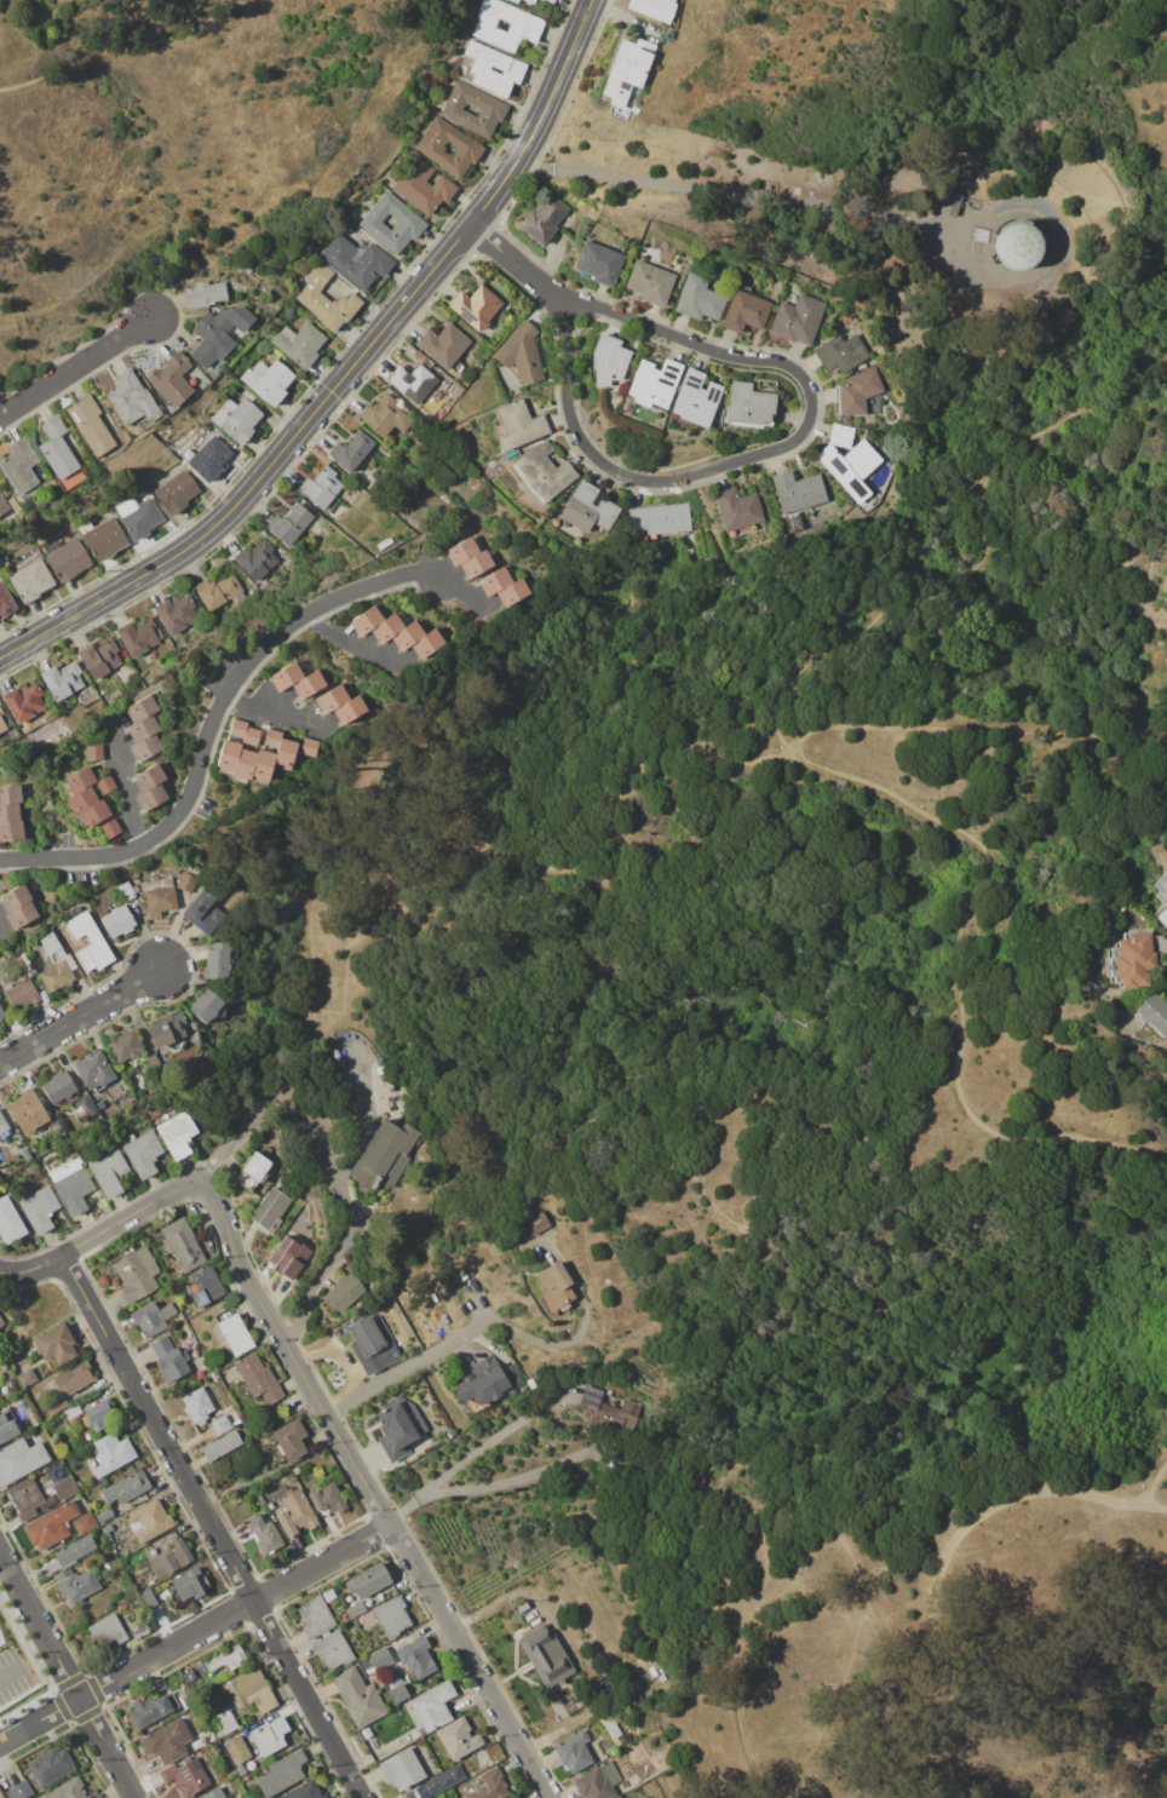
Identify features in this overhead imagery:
building: (551, 0)
building: (525, 2)
building: (654, 7)
road: (1157, 15)
building: (523, 29)
road: (127, 50)
building: (510, 67)
building: (626, 76)
building: (491, 109)
park: (160, 127)
building: (427, 147)
building: (422, 185)
road: (724, 196)
building: (952, 203)
building: (544, 218)
building: (410, 222)
building: (1018, 245)
building: (357, 260)
building: (599, 262)
road: (518, 264)
building: (247, 269)
building: (298, 278)
building: (650, 282)
building: (205, 293)
building: (324, 297)
building: (699, 298)
building: (475, 305)
building: (746, 310)
building: (798, 318)
building: (218, 333)
building: (299, 343)
building: (444, 346)
building: (521, 352)
building: (840, 352)
building: (609, 360)
road: (1161, 362)
road: (76, 367)
building: (431, 367)
road: (344, 375)
building: (172, 377)
building: (268, 379)
building: (412, 381)
building: (654, 381)
building: (858, 390)
building: (247, 394)
building: (132, 398)
building: (694, 400)
building: (747, 404)
building: (439, 412)
building: (385, 417)
building: (236, 418)
building: (90, 424)
building: (517, 424)
building: (841, 435)
building: (57, 447)
building: (351, 449)
building: (208, 458)
building: (850, 466)
road: (613, 469)
building: (21, 470)
building: (39, 470)
building: (542, 470)
building: (476, 482)
building: (321, 486)
building: (176, 492)
building: (797, 495)
building: (2, 506)
building: (15, 506)
building: (588, 509)
building: (737, 510)
building: (138, 516)
building: (659, 519)
building: (289, 523)
building: (103, 536)
building: (461, 551)
building: (65, 557)
building: (257, 558)
building: (476, 563)
building: (495, 580)
building: (30, 581)
building: (217, 591)
building: (512, 591)
building: (5, 601)
building: (176, 613)
building: (367, 619)
building: (386, 627)
building: (139, 636)
building: (407, 636)
building: (426, 643)
road: (356, 645)
building: (99, 657)
road: (646, 666)
building: (286, 676)
building: (63, 680)
building: (307, 684)
road: (470, 684)
building: (105, 697)
building: (332, 697)
building: (23, 701)
road: (222, 703)
building: (142, 708)
building: (349, 708)
road: (276, 713)
building: (2, 722)
road: (973, 726)
building: (41, 728)
building: (237, 728)
building: (143, 729)
building: (251, 735)
building: (271, 737)
building: (309, 746)
building: (145, 748)
building: (94, 753)
building: (284, 754)
building: (228, 756)
building: (243, 765)
building: (263, 765)
road: (837, 772)
building: (150, 777)
building: (77, 781)
building: (105, 786)
road: (127, 787)
building: (10, 794)
building: (151, 797)
building: (80, 800)
road: (465, 802)
building: (10, 812)
building: (93, 814)
building: (110, 828)
building: (11, 831)
building: (192, 868)
building: (186, 881)
building: (126, 890)
building: (159, 896)
building: (15, 897)
building: (1162, 897)
building: (75, 909)
building: (203, 912)
building: (21, 914)
building: (117, 921)
road: (2, 926)
road: (443, 943)
building: (91, 944)
building: (1131, 959)
building: (217, 960)
building: (54, 965)
building: (22, 994)
building: (0, 996)
building: (205, 1005)
building: (1, 1013)
road: (81, 1015)
building: (1154, 1015)
building: (166, 1029)
building: (353, 1036)
building: (126, 1045)
building: (332, 1053)
building: (154, 1063)
building: (93, 1069)
park: (806, 1082)
building: (58, 1086)
building: (87, 1104)
building: (100, 1104)
building: (28, 1110)
building: (2, 1128)
building: (178, 1134)
road: (241, 1134)
building: (25, 1154)
building: (143, 1154)
building: (385, 1155)
building: (253, 1172)
building: (110, 1173)
building: (73, 1185)
building: (40, 1208)
building: (270, 1211)
road: (351, 1218)
building: (10, 1220)
building: (536, 1223)
road: (100, 1231)
building: (184, 1245)
building: (533, 1254)
building: (288, 1257)
road: (804, 1266)
building: (136, 1274)
building: (461, 1275)
building: (205, 1287)
building: (556, 1287)
building: (345, 1292)
building: (151, 1317)
building: (1, 1323)
building: (236, 1334)
building: (194, 1340)
building: (56, 1344)
building: (373, 1344)
building: (2, 1363)
building: (172, 1365)
road: (402, 1366)
building: (214, 1375)
building: (28, 1377)
building: (74, 1378)
building: (257, 1378)
building: (516, 1380)
building: (484, 1383)
building: (12, 1384)
building: (27, 1403)
building: (59, 1404)
building: (197, 1406)
building: (73, 1412)
building: (604, 1412)
building: (98, 1414)
building: (34, 1419)
building: (222, 1425)
building: (399, 1426)
building: (7, 1429)
building: (289, 1440)
building: (220, 1446)
road: (475, 1452)
building: (110, 1454)
building: (21, 1460)
road: (511, 1482)
building: (65, 1488)
building: (126, 1488)
road: (372, 1494)
road: (1146, 1495)
building: (24, 1498)
building: (328, 1498)
building: (270, 1505)
building: (294, 1511)
building: (104, 1515)
building: (149, 1521)
building: (85, 1523)
building: (51, 1526)
road: (211, 1526)
building: (264, 1534)
building: (70, 1553)
building: (169, 1559)
building: (368, 1580)
building: (195, 1582)
building: (75, 1585)
building: (173, 1589)
building: (122, 1607)
building: (357, 1608)
building: (392, 1616)
road: (927, 1631)
building: (107, 1632)
road: (195, 1633)
building: (324, 1633)
road: (740, 1644)
building: (546, 1656)
building: (416, 1658)
building: (225, 1659)
building: (380, 1659)
road: (8, 1672)
parking lot: (12, 1675)
road: (67, 1677)
building: (396, 1691)
building: (251, 1693)
building: (358, 1696)
road: (834, 1702)
building: (433, 1706)
building: (157, 1707)
building: (225, 1722)
building: (613, 1731)
building: (270, 1735)
building: (456, 1737)
building: (167, 1741)
building: (236, 1750)
building: (574, 1752)
building: (50, 1767)
building: (240, 1769)
building: (401, 1770)
building: (282, 1774)
building: (186, 1776)
building: (598, 1781)
building: (436, 1782)
building: (489, 1786)
building: (68, 1790)
building: (19, 1791)
building: (304, 1792)
building: (214, 1793)
building: (1, 1796)
building: (441, 1797)
building: (442, 1797)

